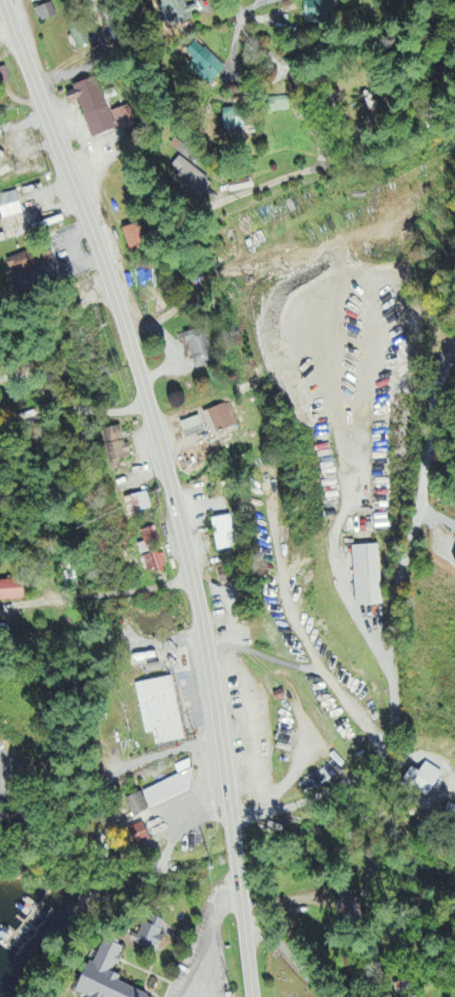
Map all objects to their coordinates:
building: (283, 0)
building: (177, 11)
building: (317, 13)
building: (46, 14)
road: (5, 25)
building: (80, 36)
road: (253, 46)
road: (94, 60)
building: (213, 69)
building: (4, 77)
building: (280, 105)
building: (99, 110)
building: (235, 121)
building: (192, 180)
building: (11, 207)
building: (135, 239)
building: (31, 262)
building: (200, 349)
building: (220, 419)
building: (193, 428)
building: (115, 448)
road: (171, 487)
building: (138, 504)
road: (327, 508)
building: (224, 534)
building: (148, 541)
building: (155, 564)
building: (227, 576)
building: (367, 576)
building: (11, 591)
road: (393, 630)
building: (160, 711)
road: (111, 775)
building: (426, 778)
road: (408, 795)
building: (156, 797)
building: (141, 835)
building: (152, 935)
road: (287, 956)
building: (106, 975)
park: (282, 977)

